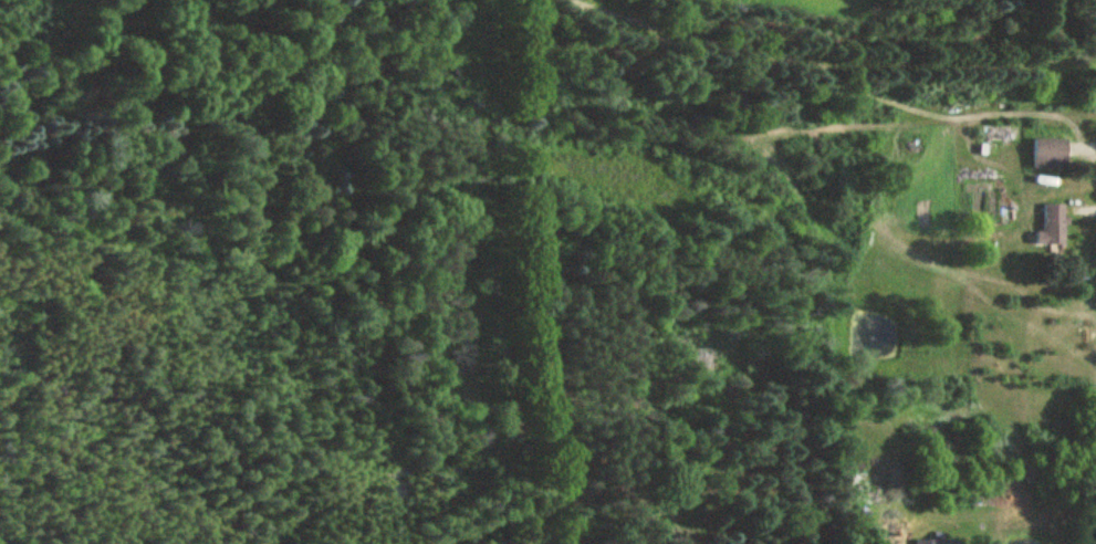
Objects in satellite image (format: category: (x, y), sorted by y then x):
building: (1047, 154)
building: (1051, 226)
building: (932, 542)

